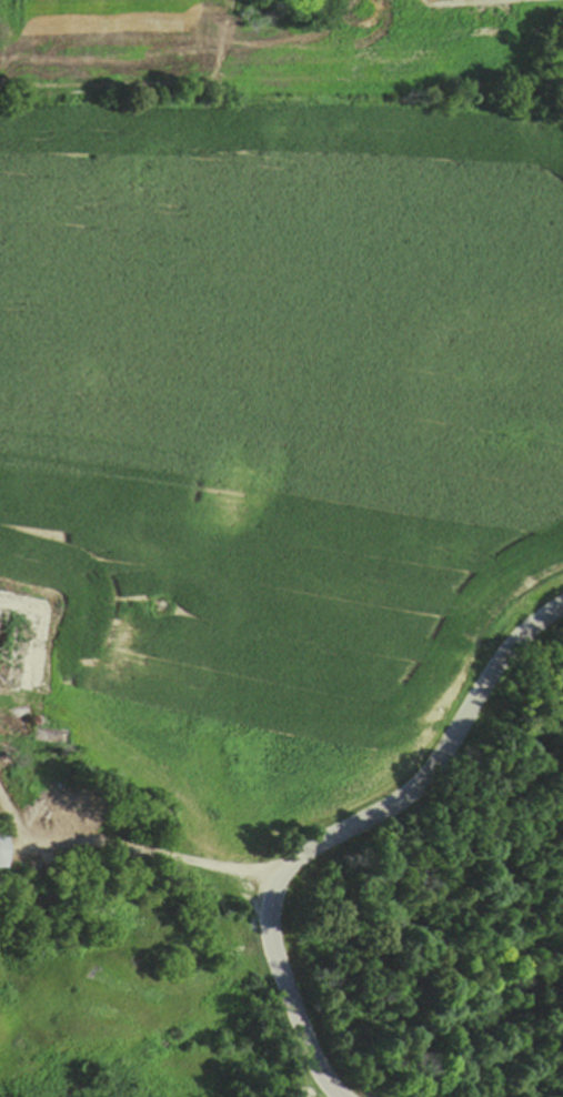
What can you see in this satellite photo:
building: (12, 651)
building: (54, 736)
building: (54, 813)
road: (346, 831)
building: (2, 849)

